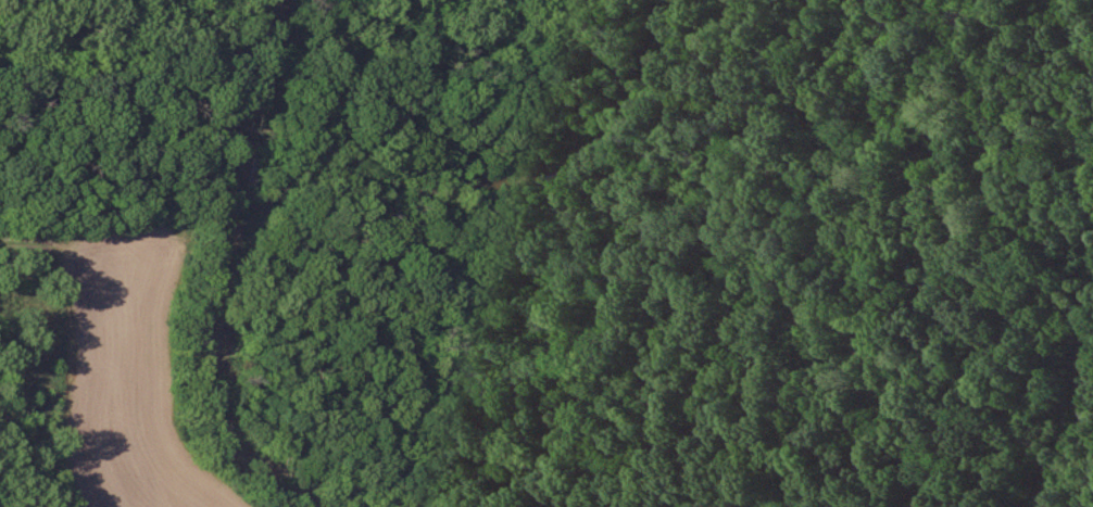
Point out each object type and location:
river: (213, 272)

